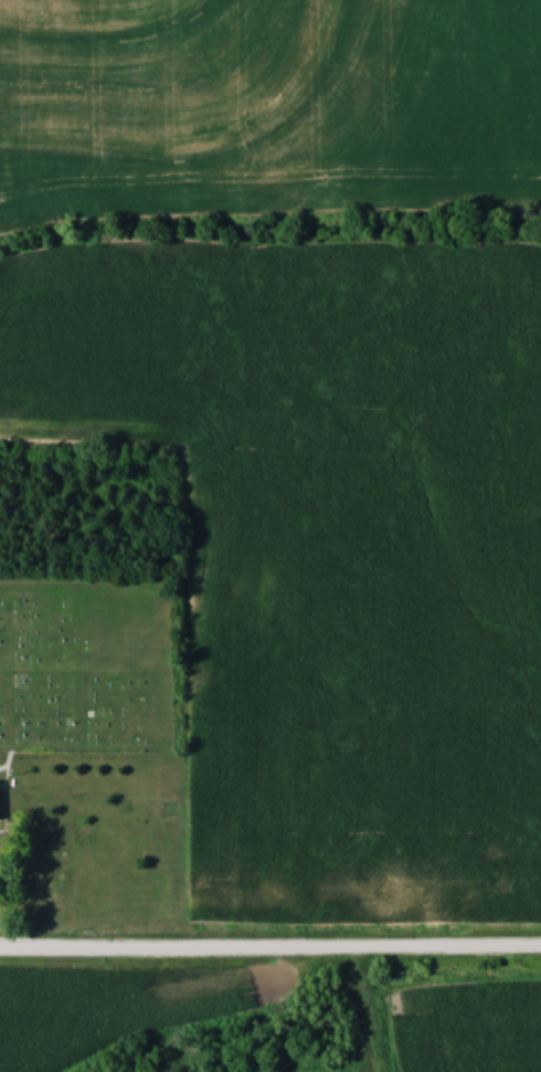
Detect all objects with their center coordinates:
building: (1, 799)
road: (270, 950)
road: (356, 1011)

